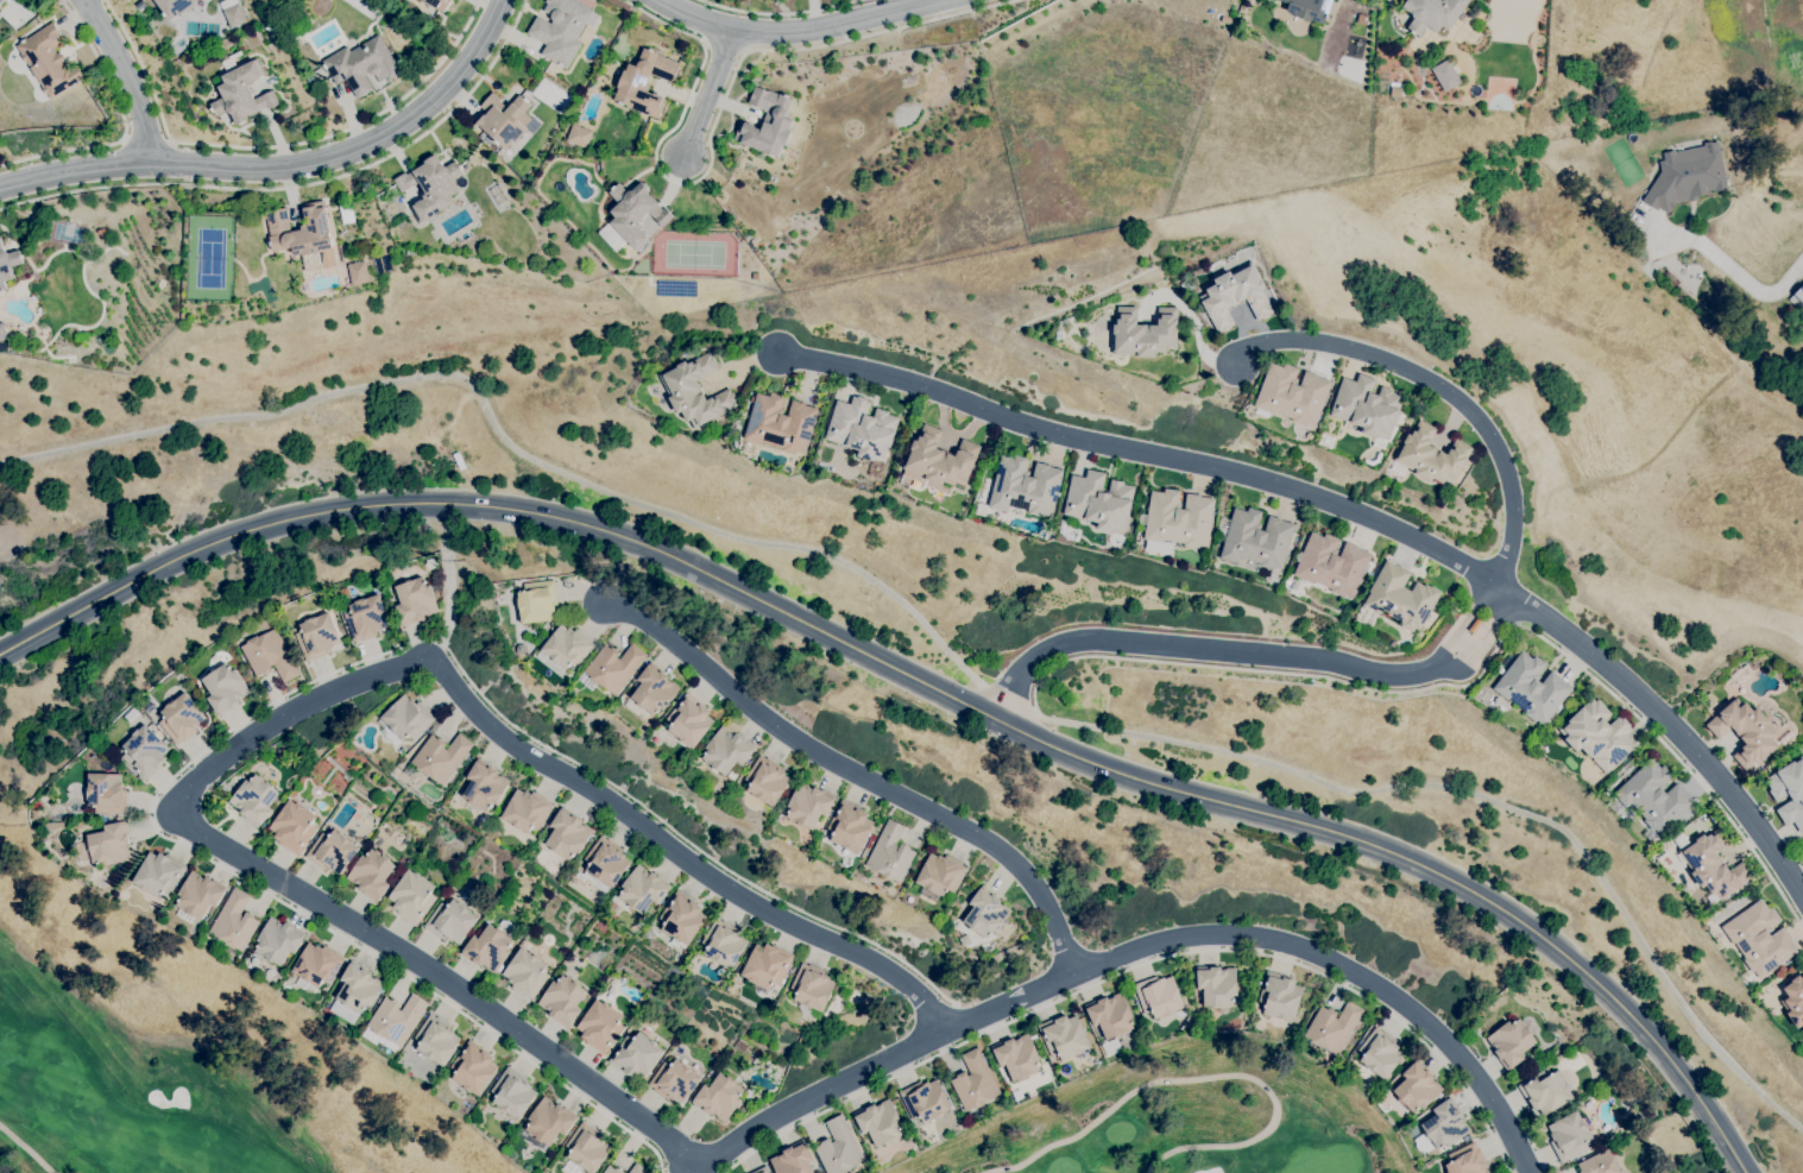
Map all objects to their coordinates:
building: (266, 0)
building: (1, 1)
building: (227, 4)
building: (439, 4)
building: (175, 6)
building: (1309, 8)
road: (777, 12)
building: (1432, 13)
building: (269, 14)
building: (234, 15)
building: (291, 15)
building: (271, 29)
building: (562, 29)
road: (802, 29)
building: (48, 61)
building: (361, 65)
building: (1444, 75)
road: (127, 77)
building: (311, 81)
building: (645, 82)
road: (713, 84)
building: (240, 92)
building: (1395, 92)
building: (560, 100)
road: (715, 116)
building: (504, 119)
building: (767, 122)
road: (124, 125)
building: (579, 135)
road: (145, 139)
road: (276, 145)
road: (284, 165)
building: (1687, 176)
road: (301, 184)
building: (431, 185)
building: (635, 213)
building: (653, 219)
building: (298, 231)
building: (101, 232)
building: (7, 265)
building: (358, 272)
building: (755, 276)
road: (1740, 278)
building: (1236, 296)
building: (1797, 299)
building: (2, 332)
building: (1145, 333)
building: (81, 336)
road: (1443, 387)
building: (695, 391)
building: (1292, 395)
building: (1367, 406)
building: (780, 423)
building: (862, 428)
building: (1326, 440)
building: (1430, 455)
building: (938, 460)
building: (1022, 487)
building: (1099, 500)
road: (1355, 511)
building: (1179, 518)
building: (1256, 538)
building: (1332, 563)
road: (447, 573)
building: (1401, 597)
building: (414, 600)
building: (537, 601)
building: (365, 618)
road: (1463, 620)
building: (1475, 625)
road: (1483, 635)
building: (316, 637)
building: (566, 647)
road: (944, 647)
road: (1204, 648)
building: (269, 656)
building: (613, 667)
road: (1477, 676)
road: (920, 681)
building: (1531, 687)
building: (223, 688)
building: (654, 689)
road: (280, 698)
road: (279, 715)
building: (181, 718)
building: (405, 720)
building: (689, 720)
building: (1745, 731)
building: (1597, 734)
building: (144, 751)
building: (725, 751)
building: (440, 757)
road: (855, 772)
building: (765, 781)
building: (484, 786)
building: (1789, 792)
building: (106, 793)
building: (1654, 797)
building: (253, 800)
building: (807, 806)
building: (1614, 806)
building: (525, 811)
building: (849, 826)
building: (292, 827)
building: (567, 834)
building: (109, 844)
building: (1802, 847)
building: (332, 851)
building: (889, 853)
building: (550, 859)
building: (604, 864)
building: (1711, 864)
building: (371, 874)
building: (158, 875)
building: (940, 875)
building: (641, 890)
building: (198, 894)
building: (411, 896)
building: (985, 914)
building: (681, 917)
building: (234, 921)
building: (450, 921)
building: (966, 938)
building: (1759, 938)
building: (277, 940)
building: (723, 944)
road: (1149, 944)
building: (487, 948)
road: (1140, 963)
building: (316, 965)
building: (767, 965)
building: (525, 973)
building: (1217, 985)
building: (358, 988)
building: (812, 988)
building: (1159, 996)
building: (1279, 996)
building: (562, 999)
building: (1793, 999)
road: (945, 1013)
building: (1111, 1016)
building: (396, 1019)
building: (600, 1027)
building: (1332, 1027)
building: (1064, 1036)
building: (436, 1040)
building: (1509, 1042)
building: (1379, 1053)
building: (636, 1055)
building: (1017, 1057)
building: (404, 1060)
building: (472, 1067)
road: (1204, 1077)
building: (674, 1080)
building: (975, 1081)
park: (133, 1084)
building: (1417, 1087)
building: (1545, 1091)
building: (512, 1093)
building: (718, 1097)
building: (925, 1101)
park: (1183, 1117)
building: (549, 1121)
building: (880, 1122)
building: (1442, 1128)
building: (1568, 1136)
building: (587, 1148)
building: (839, 1148)
road: (26, 1149)
building: (793, 1160)
building: (1465, 1160)
building: (1599, 1163)
building: (611, 1169)
building: (638, 1169)
building: (762, 1171)

